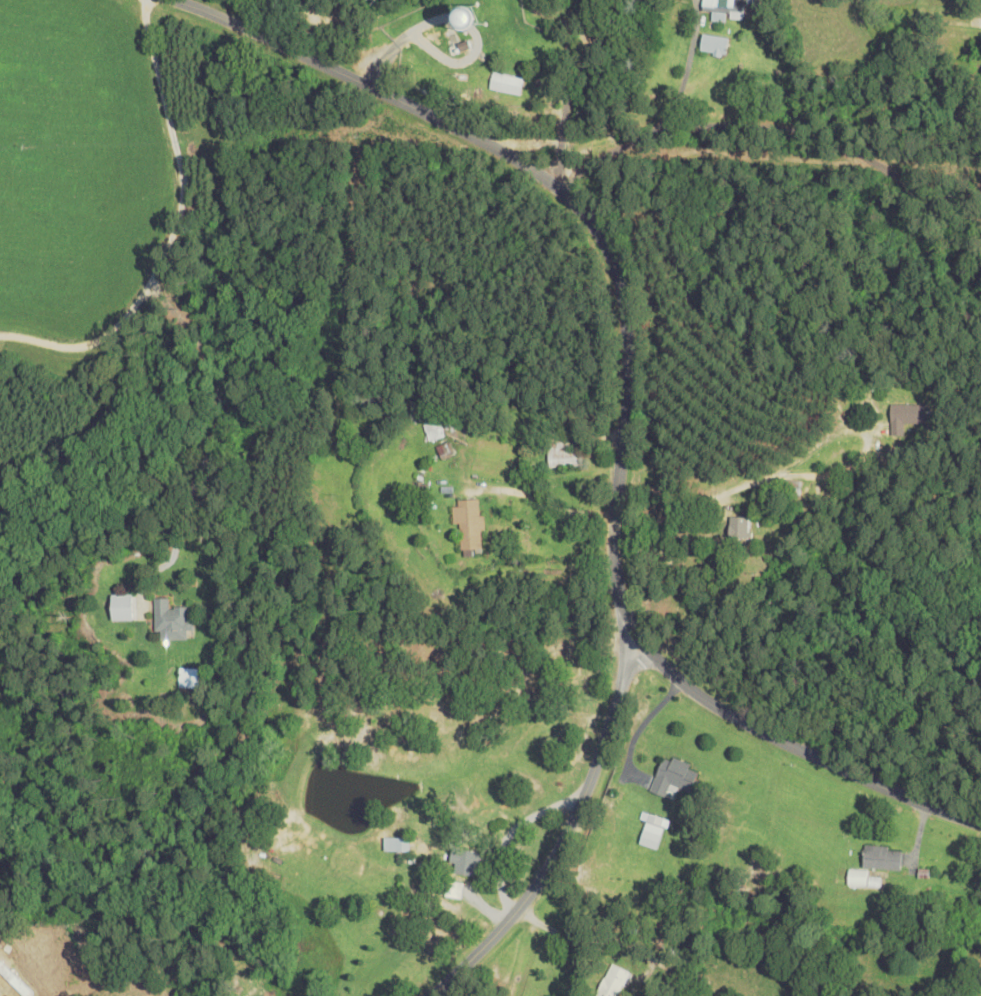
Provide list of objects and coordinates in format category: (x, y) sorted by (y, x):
building: (724, 8)
building: (715, 45)
road: (574, 82)
road: (367, 83)
building: (507, 84)
road: (773, 128)
road: (174, 231)
road: (627, 401)
building: (909, 415)
road: (223, 426)
building: (565, 455)
building: (469, 525)
building: (740, 529)
building: (124, 608)
building: (171, 618)
road: (798, 748)
building: (674, 777)
road: (567, 835)
building: (398, 845)
building: (883, 859)
building: (466, 862)
building: (452, 890)
building: (12, 982)
building: (613, 982)

